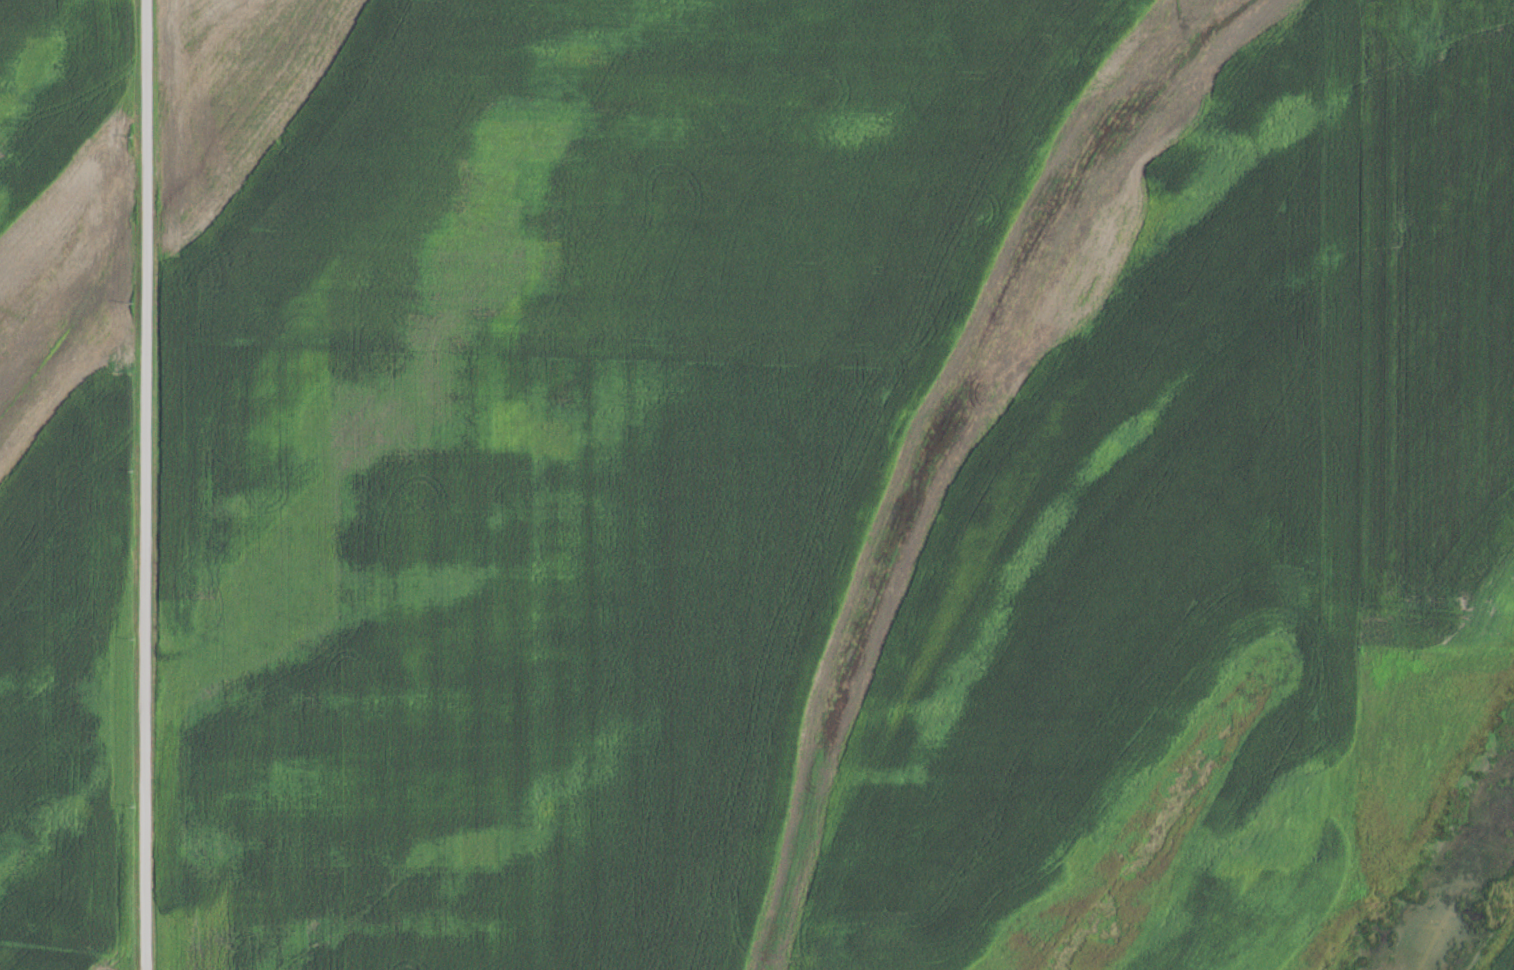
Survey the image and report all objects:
road: (142, 485)

